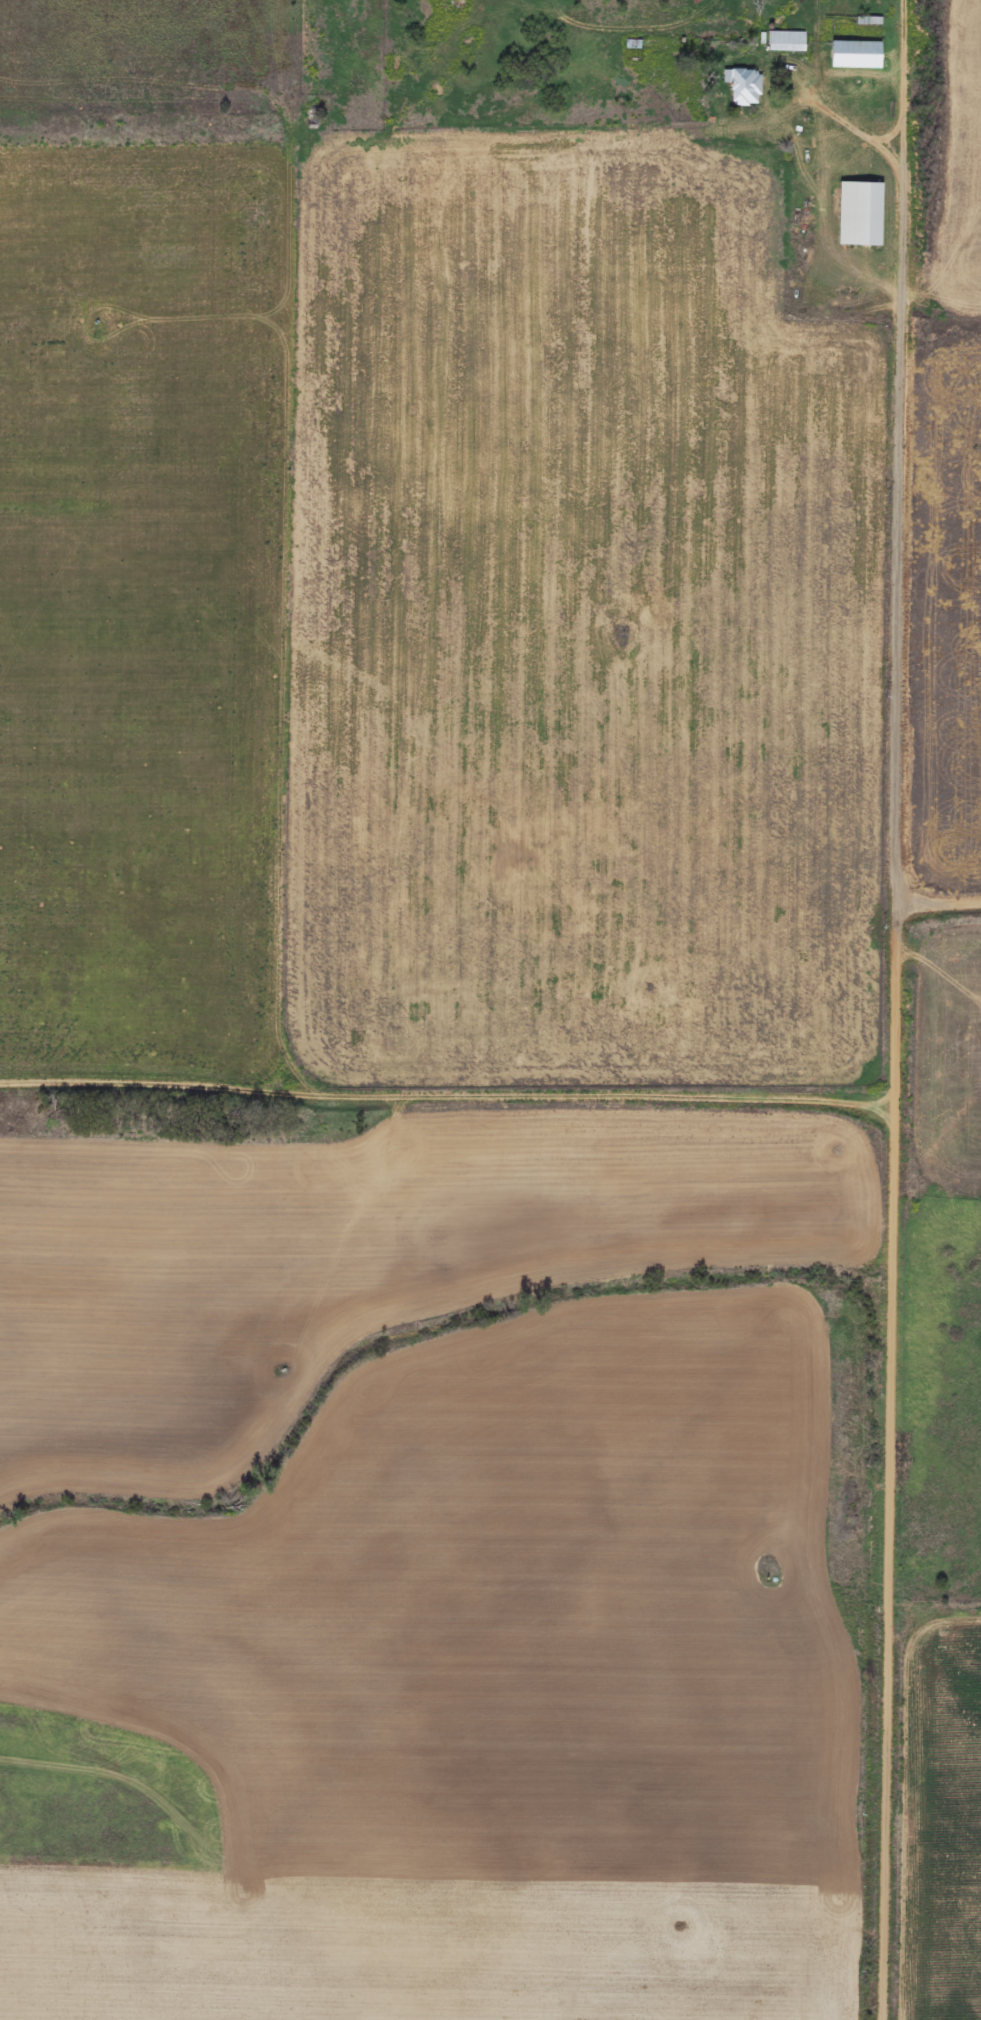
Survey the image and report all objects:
building: (788, 42)
building: (858, 55)
building: (746, 87)
road: (636, 156)
building: (862, 214)
road: (939, 901)
road: (896, 1009)
road: (448, 1094)

